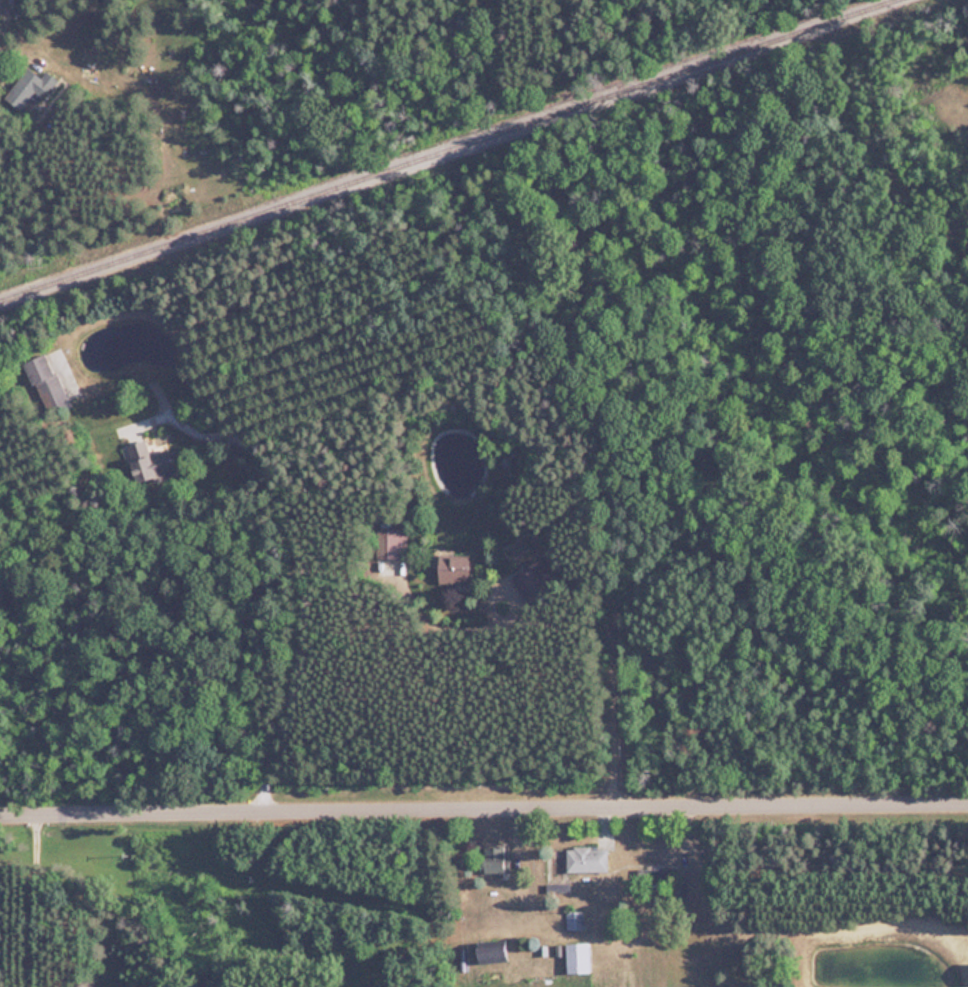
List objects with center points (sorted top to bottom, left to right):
building: (28, 87)
railway: (461, 154)
building: (44, 381)
building: (148, 462)
building: (390, 542)
building: (453, 568)
building: (530, 580)
road: (483, 808)
building: (586, 859)
building: (678, 890)
road: (34, 902)
building: (492, 951)
building: (577, 957)

